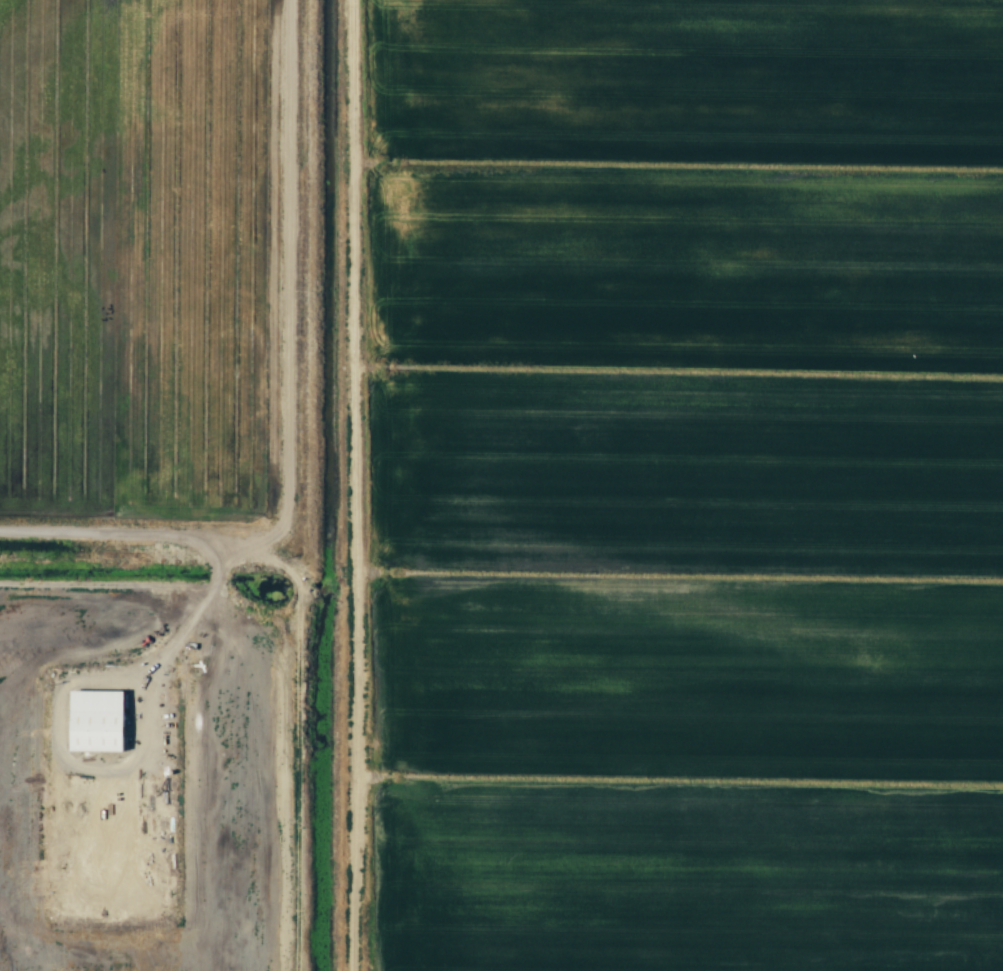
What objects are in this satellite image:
road: (289, 283)
road: (351, 485)
road: (192, 621)
road: (293, 628)
building: (100, 720)

